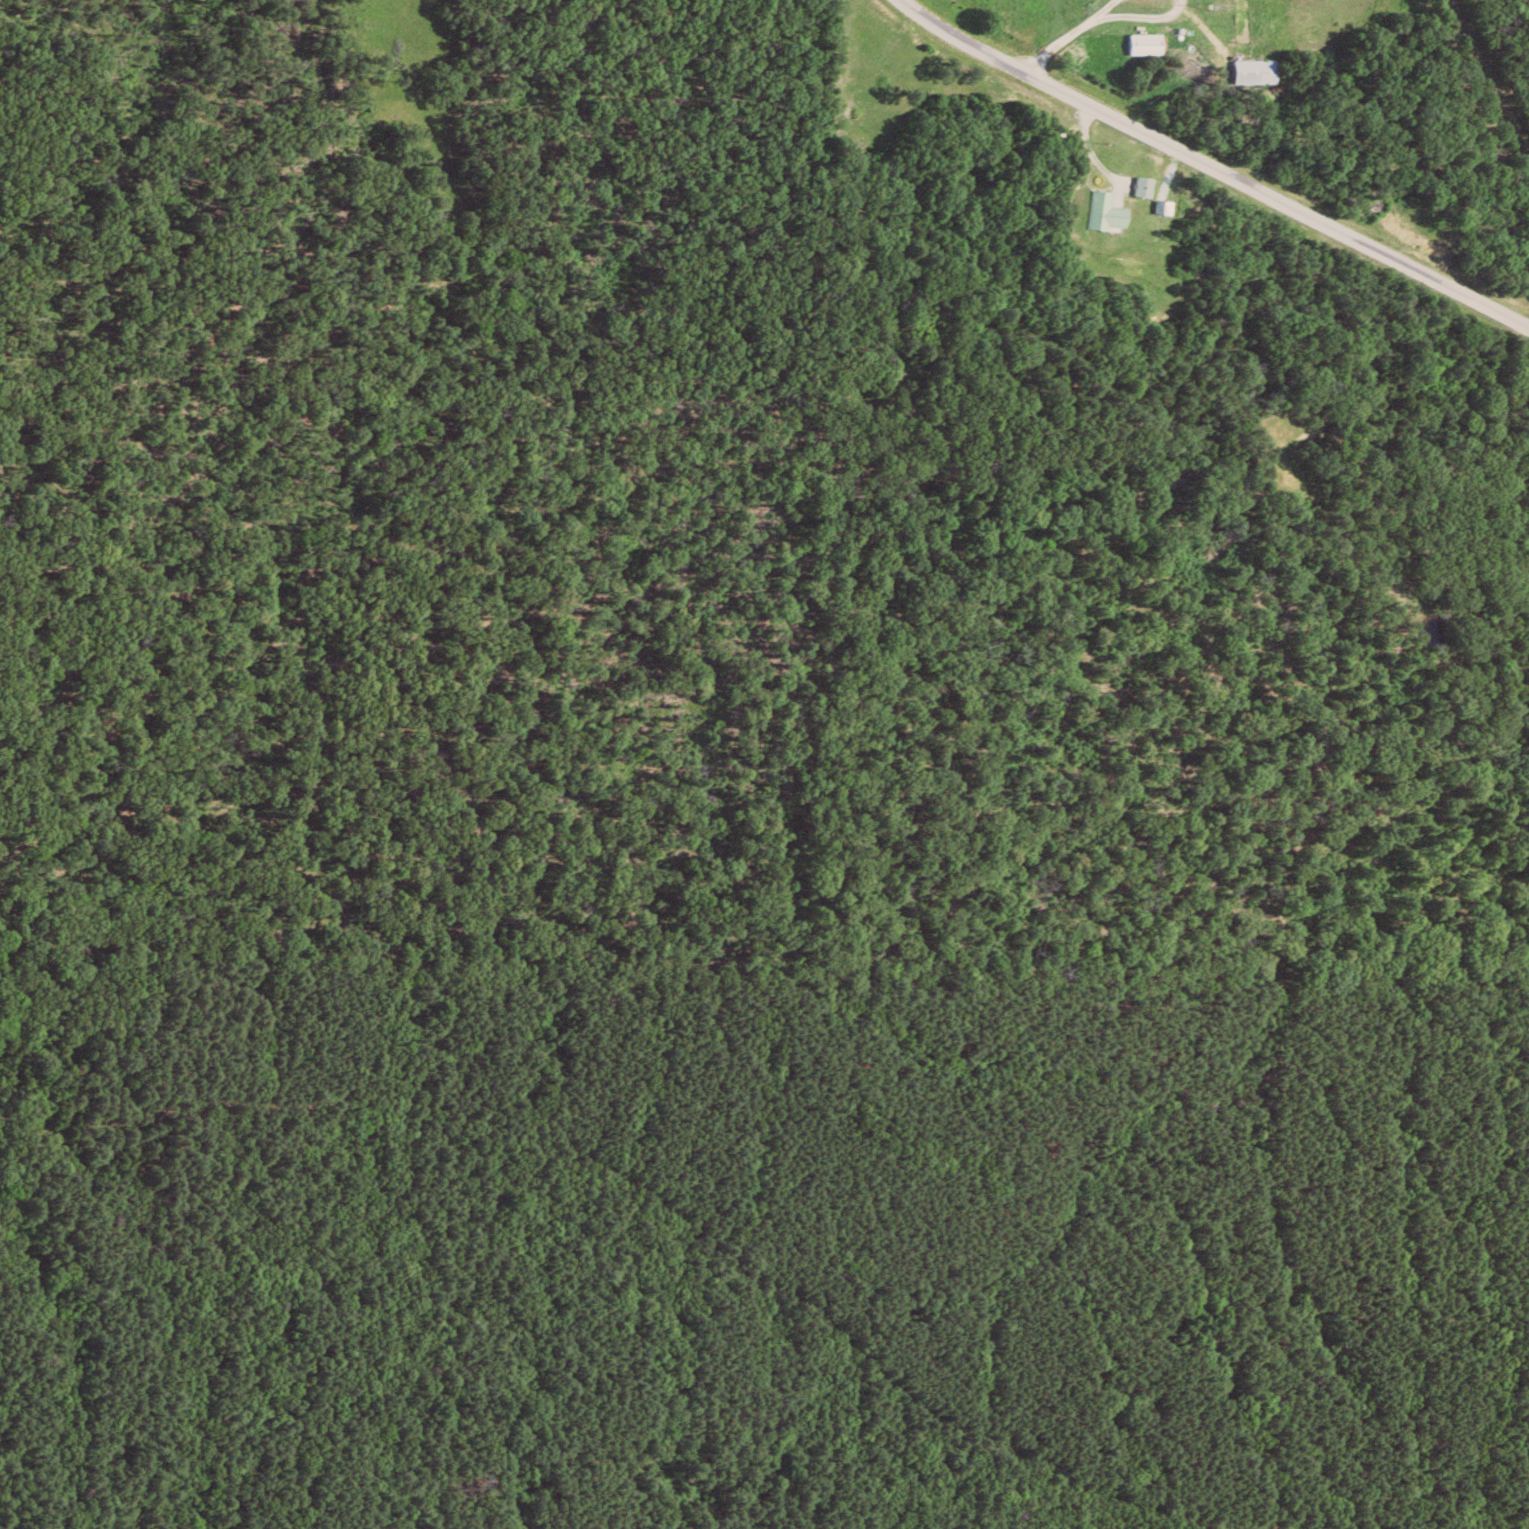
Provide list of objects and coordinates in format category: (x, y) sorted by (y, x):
building: (1150, 44)
building: (1260, 71)
road: (1086, 155)
road: (1213, 165)
building: (1110, 212)
road: (706, 1231)

